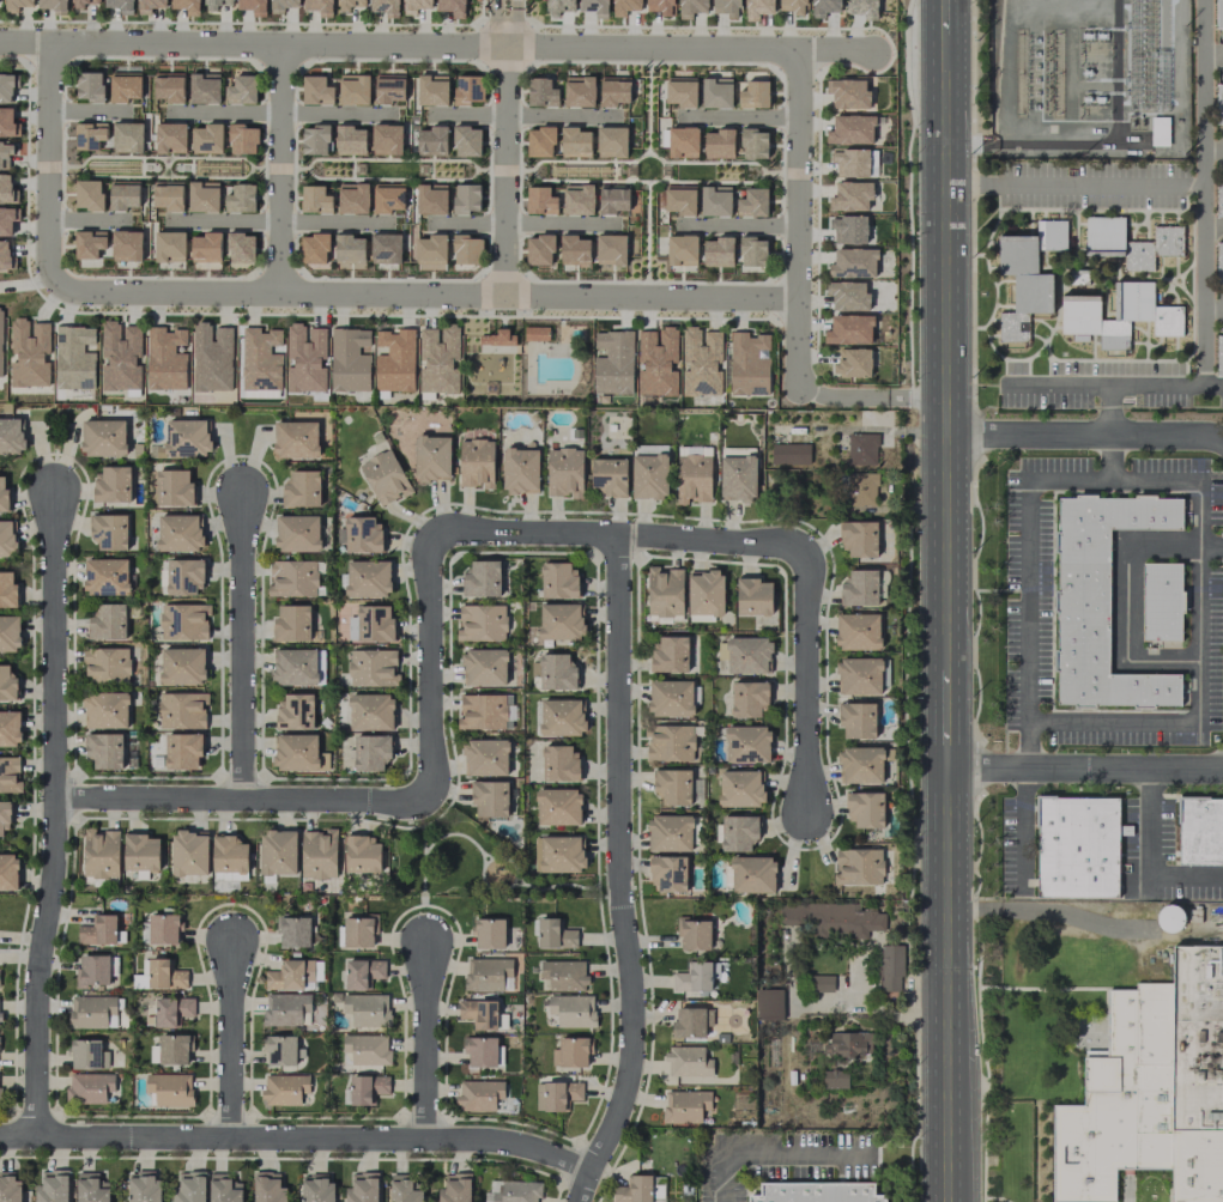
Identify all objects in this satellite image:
building: (78, 4)
building: (16, 5)
building: (120, 5)
building: (149, 5)
building: (211, 5)
building: (281, 5)
building: (345, 5)
building: (53, 6)
building: (186, 6)
building: (253, 6)
building: (414, 6)
building: (624, 6)
building: (660, 6)
building: (793, 6)
building: (319, 7)
building: (385, 7)
building: (452, 7)
building: (558, 7)
building: (594, 7)
building: (691, 7)
building: (726, 7)
building: (823, 7)
building: (757, 8)
building: (864, 8)
building: (1218, 13)
road: (944, 17)
road: (505, 22)
road: (278, 42)
road: (26, 44)
road: (688, 47)
road: (1212, 54)
road: (1203, 73)
building: (89, 86)
building: (125, 86)
building: (6, 87)
building: (168, 87)
building: (202, 89)
building: (352, 89)
building: (388, 89)
building: (241, 90)
building: (316, 90)
building: (431, 90)
building: (467, 90)
building: (579, 91)
building: (613, 91)
building: (541, 92)
building: (680, 92)
building: (716, 93)
building: (848, 93)
building: (753, 95)
building: (1218, 103)
road: (84, 110)
road: (281, 113)
road: (520, 115)
road: (734, 116)
building: (6, 121)
building: (850, 129)
building: (89, 135)
building: (127, 136)
building: (170, 136)
building: (206, 139)
building: (242, 139)
building: (386, 139)
building: (314, 140)
building: (350, 140)
building: (431, 140)
building: (466, 141)
building: (539, 141)
building: (611, 141)
building: (683, 141)
building: (575, 142)
building: (718, 144)
building: (753, 144)
road: (1213, 147)
building: (6, 151)
road: (48, 162)
road: (1204, 164)
road: (278, 165)
road: (505, 169)
road: (1074, 182)
building: (5, 188)
building: (87, 194)
building: (122, 195)
building: (167, 195)
building: (852, 195)
building: (202, 196)
building: (1218, 196)
building: (352, 198)
building: (387, 198)
building: (465, 198)
building: (240, 199)
building: (314, 199)
building: (430, 199)
building: (577, 199)
building: (612, 199)
building: (539, 200)
building: (679, 200)
building: (715, 201)
building: (752, 202)
road: (794, 217)
road: (277, 220)
building: (6, 221)
road: (84, 221)
road: (517, 223)
road: (735, 223)
road: (1213, 226)
building: (848, 229)
building: (1131, 242)
building: (89, 244)
building: (126, 245)
building: (169, 245)
building: (205, 247)
building: (240, 248)
building: (314, 248)
building: (385, 248)
building: (466, 249)
building: (539, 249)
building: (682, 249)
building: (574, 250)
building: (350, 251)
building: (611, 251)
building: (718, 251)
building: (431, 253)
building: (752, 253)
building: (4, 255)
building: (1218, 262)
building: (853, 263)
building: (1022, 286)
road: (1204, 290)
road: (423, 291)
building: (847, 296)
road: (1213, 308)
building: (1118, 315)
building: (849, 329)
building: (496, 338)
building: (0, 344)
road: (945, 352)
building: (29, 353)
building: (120, 356)
building: (1218, 356)
building: (211, 357)
building: (74, 358)
building: (305, 358)
building: (165, 359)
building: (260, 359)
building: (438, 359)
building: (349, 360)
building: (394, 360)
building: (701, 362)
building: (612, 363)
building: (852, 363)
building: (747, 364)
road: (1104, 384)
road: (840, 394)
road: (916, 395)
road: (1108, 411)
building: (11, 435)
road: (1085, 437)
building: (103, 438)
building: (184, 438)
building: (295, 439)
building: (861, 449)
building: (789, 454)
building: (431, 459)
road: (1109, 459)
building: (476, 463)
building: (520, 471)
building: (564, 472)
building: (385, 476)
building: (609, 476)
building: (648, 476)
building: (692, 478)
building: (737, 478)
road: (1173, 482)
building: (113, 485)
building: (175, 487)
building: (302, 488)
building: (860, 488)
building: (4, 496)
building: (109, 532)
building: (178, 532)
building: (297, 533)
building: (362, 534)
road: (616, 535)
building: (6, 538)
building: (859, 538)
road: (1211, 544)
building: (105, 576)
building: (184, 576)
building: (292, 578)
building: (368, 578)
building: (482, 579)
building: (558, 579)
building: (859, 588)
building: (664, 591)
building: (704, 593)
building: (753, 596)
road: (1126, 602)
building: (1163, 607)
building: (1102, 608)
building: (183, 621)
building: (559, 621)
building: (108, 623)
building: (291, 623)
building: (482, 623)
building: (370, 624)
building: (856, 631)
building: (10, 633)
road: (242, 648)
building: (670, 654)
building: (747, 655)
building: (182, 666)
building: (293, 666)
building: (484, 667)
building: (373, 668)
road: (430, 668)
building: (556, 673)
building: (858, 676)
road: (805, 682)
building: (7, 685)
building: (671, 698)
building: (749, 699)
building: (105, 710)
building: (181, 710)
building: (295, 711)
building: (485, 711)
building: (370, 712)
building: (561, 717)
building: (856, 720)
road: (947, 721)
building: (10, 728)
building: (670, 742)
building: (746, 743)
building: (104, 751)
building: (182, 751)
building: (295, 752)
building: (485, 757)
building: (559, 764)
building: (860, 765)
road: (1085, 771)
building: (8, 773)
building: (672, 785)
building: (490, 799)
road: (241, 800)
building: (558, 807)
building: (865, 809)
road: (55, 816)
building: (4, 818)
road: (1018, 825)
building: (670, 832)
building: (738, 832)
building: (1201, 832)
building: (1078, 849)
building: (140, 851)
building: (278, 851)
building: (189, 852)
building: (99, 854)
building: (319, 854)
building: (558, 854)
building: (362, 855)
building: (229, 858)
road: (618, 858)
road: (1151, 861)
building: (858, 866)
building: (8, 872)
building: (667, 874)
building: (752, 874)
road: (1052, 910)
building: (1169, 918)
building: (835, 919)
building: (163, 929)
building: (98, 930)
building: (293, 931)
building: (358, 931)
building: (489, 933)
building: (555, 934)
building: (694, 934)
road: (947, 940)
building: (890, 967)
building: (92, 970)
building: (363, 972)
building: (165, 975)
building: (291, 975)
building: (488, 975)
building: (563, 975)
building: (140, 977)
building: (694, 977)
building: (821, 983)
road: (794, 995)
building: (768, 1004)
building: (285, 1008)
building: (367, 1009)
building: (571, 1009)
building: (171, 1010)
building: (92, 1012)
building: (482, 1014)
building: (689, 1022)
road: (232, 1042)
road: (425, 1043)
building: (847, 1043)
building: (170, 1050)
building: (279, 1050)
building: (367, 1050)
building: (479, 1051)
building: (570, 1052)
building: (85, 1054)
building: (688, 1062)
building: (834, 1079)
building: (90, 1088)
building: (170, 1088)
building: (284, 1088)
building: (367, 1088)
building: (1151, 1089)
building: (556, 1094)
building: (685, 1105)
road: (296, 1139)
road: (949, 1155)
road: (773, 1157)
building: (53, 1186)
building: (144, 1186)
road: (582, 1186)
building: (10, 1188)
building: (91, 1188)
building: (189, 1188)
building: (268, 1188)
building: (316, 1188)
building: (362, 1188)
building: (455, 1188)
building: (224, 1189)
building: (402, 1189)
building: (632, 1189)
building: (658, 1189)
building: (513, 1191)
building: (815, 1192)

